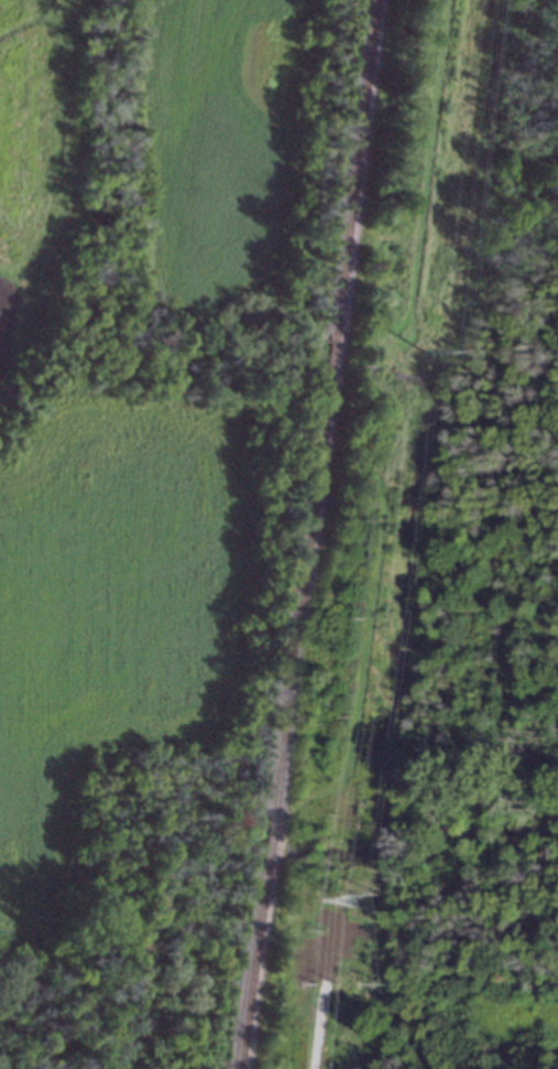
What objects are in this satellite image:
crop: (141, 385)
railway: (330, 414)
park: (489, 628)
river: (269, 849)
railway: (272, 852)
park: (136, 914)
railway: (256, 972)

